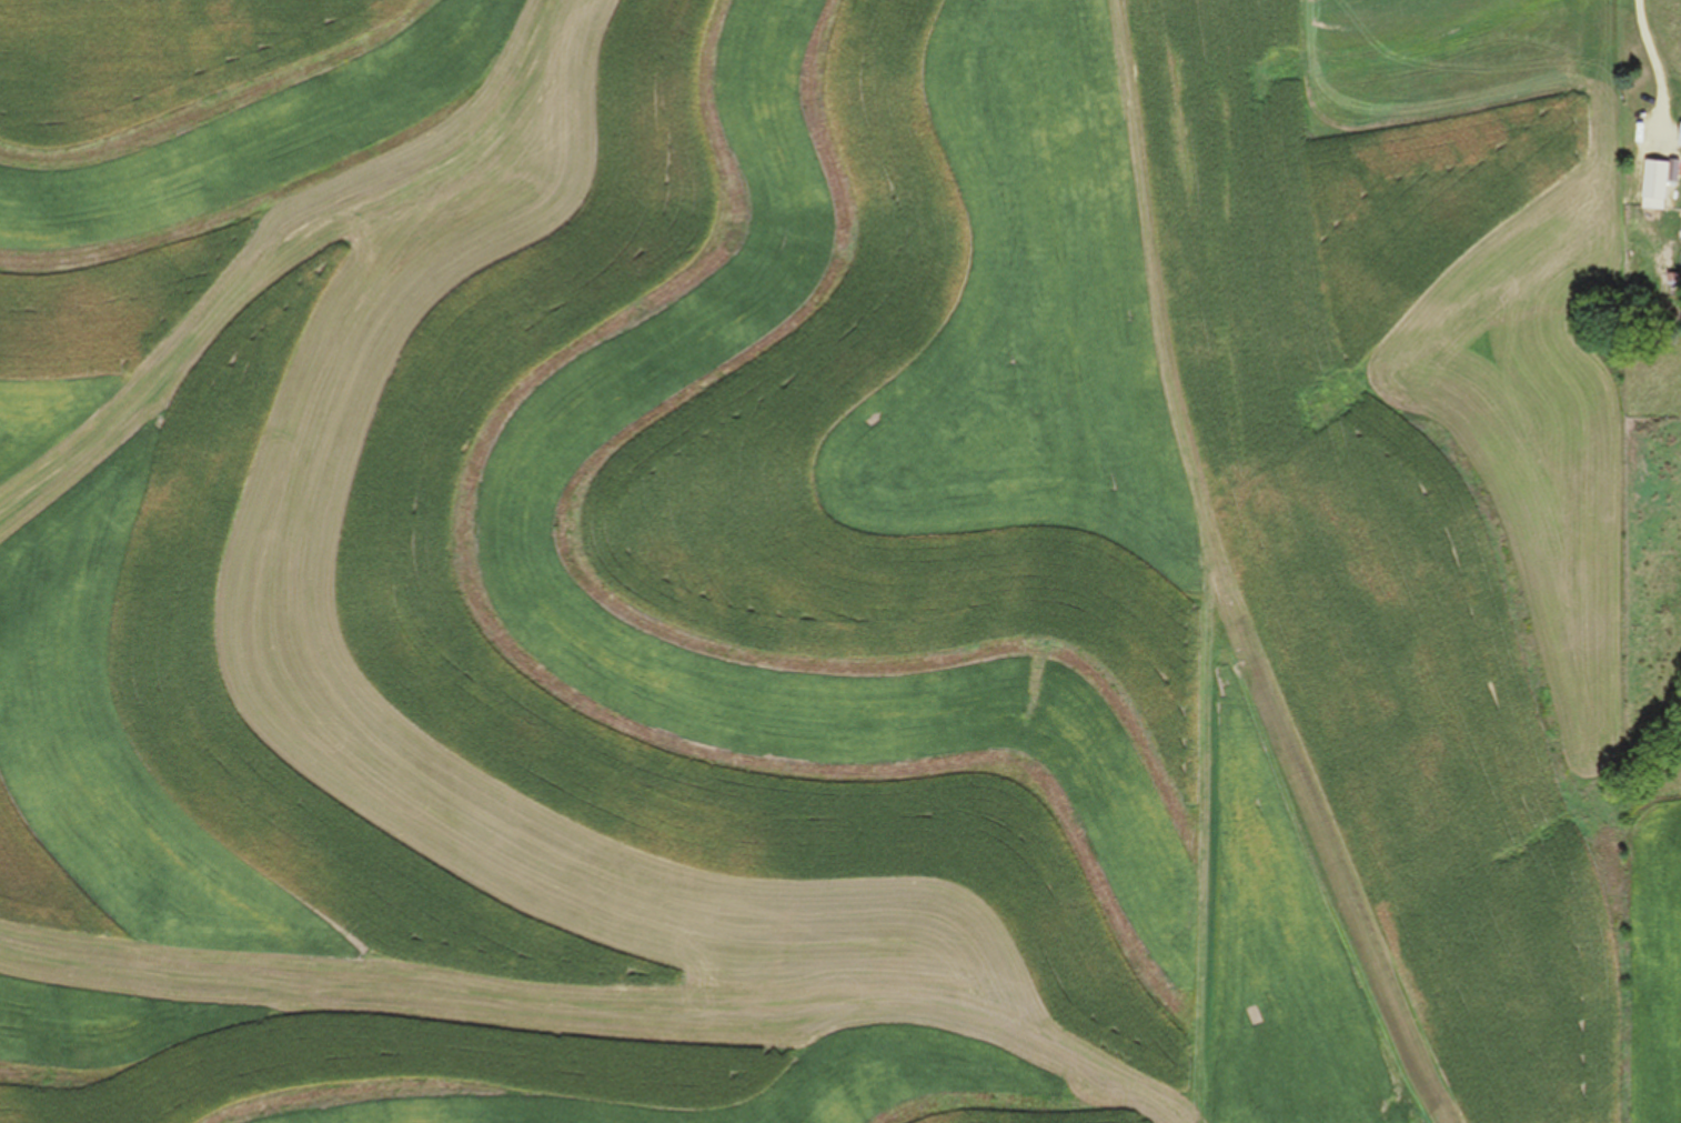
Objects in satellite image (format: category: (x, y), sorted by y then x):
building: (1679, 137)
building: (1653, 186)

